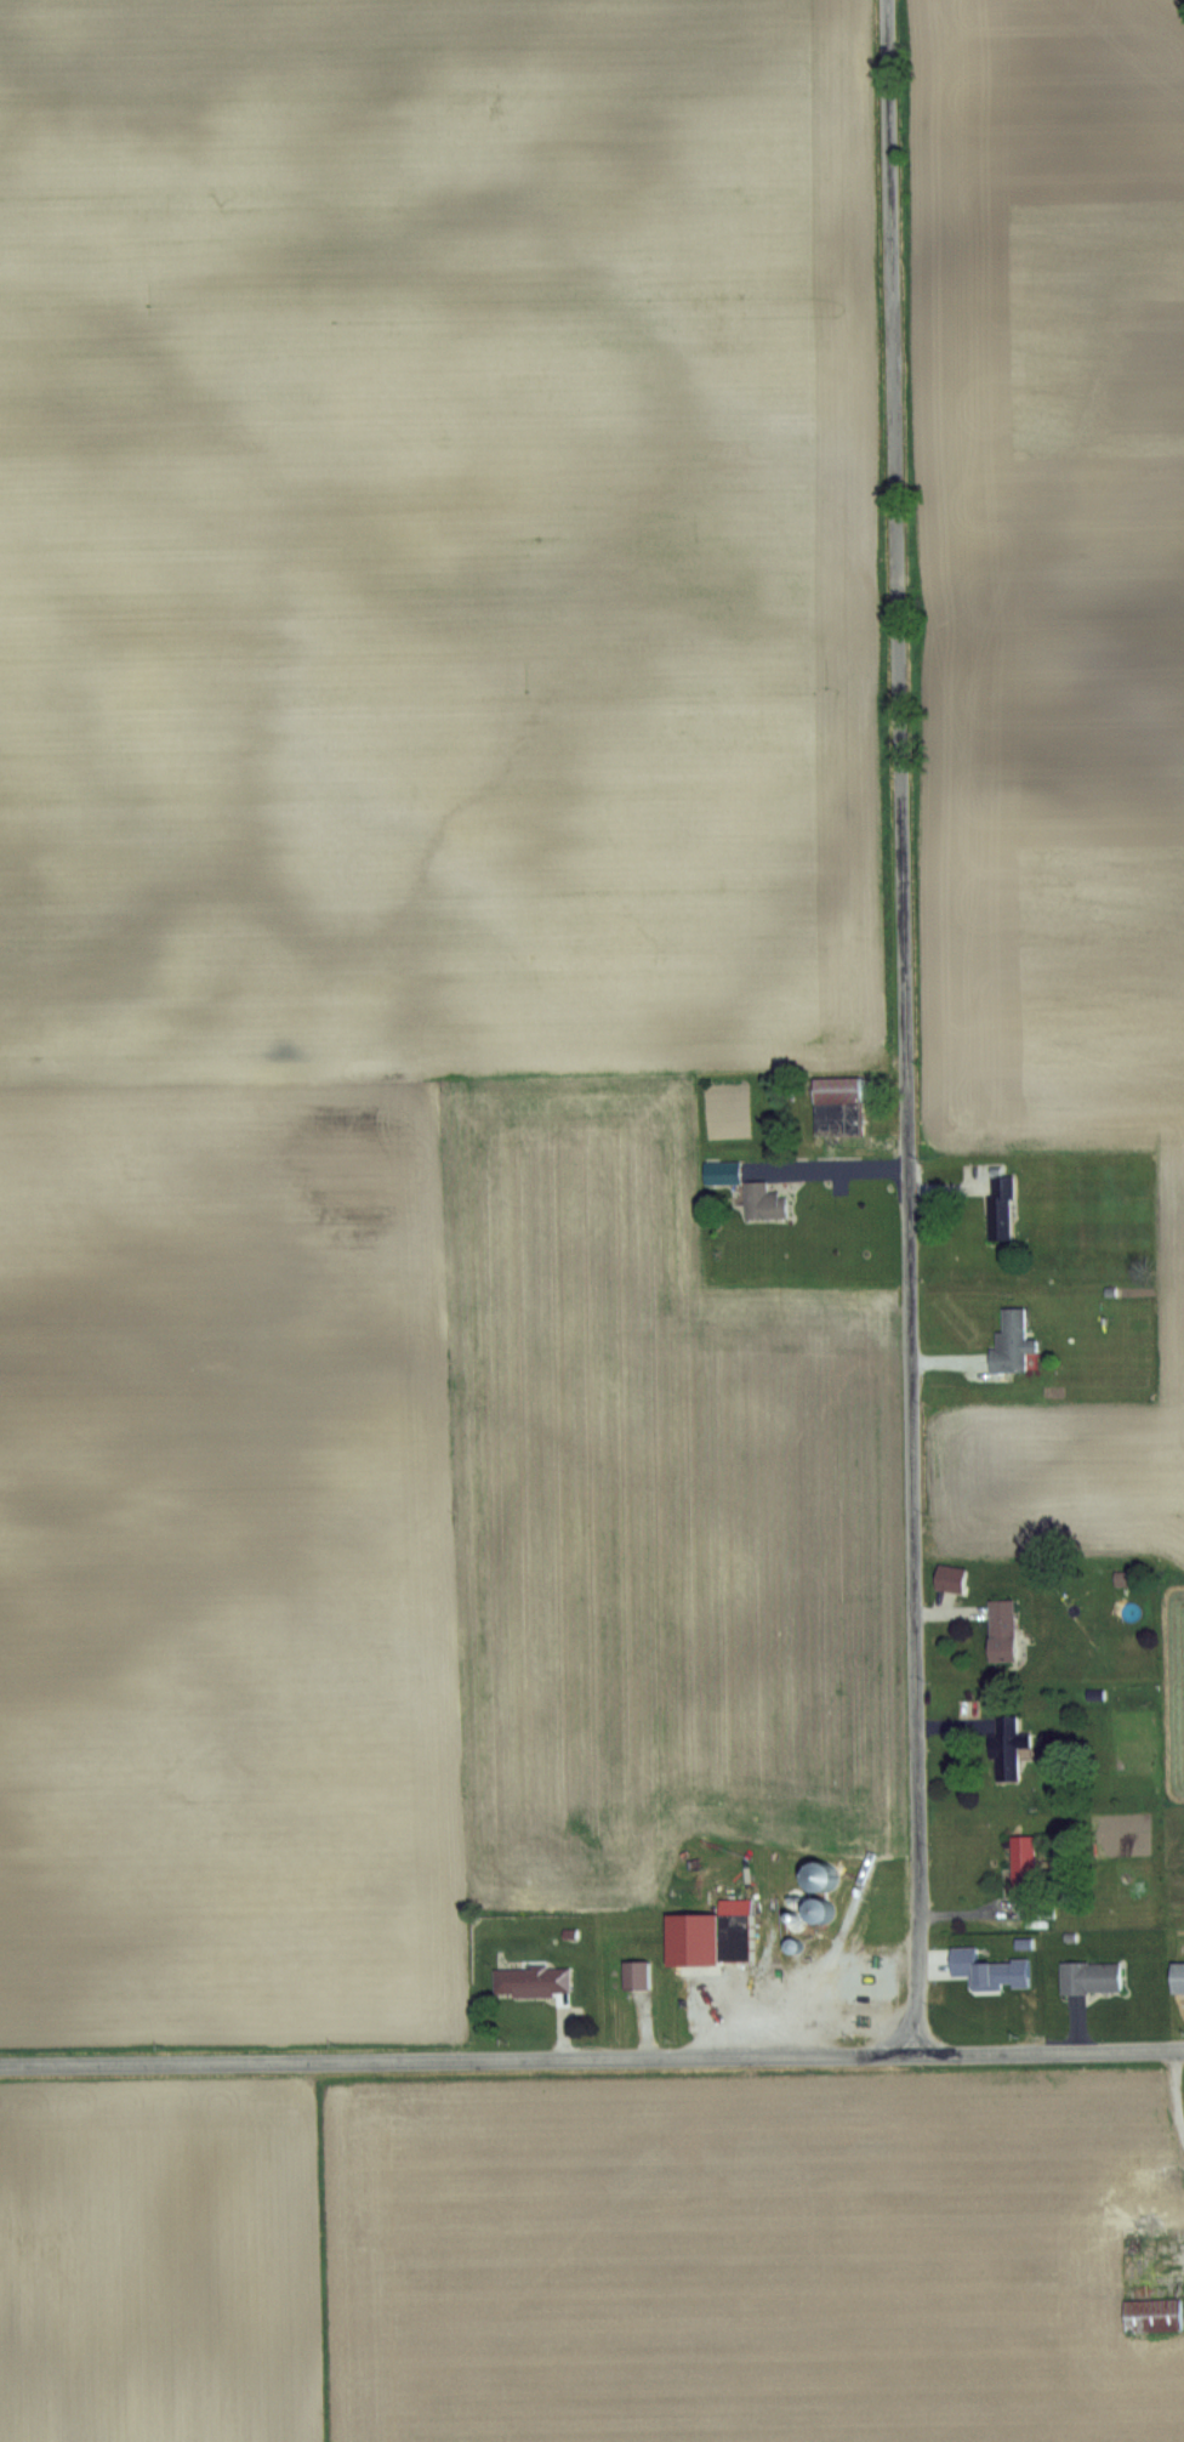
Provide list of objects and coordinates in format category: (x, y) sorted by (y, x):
road: (906, 1027)
building: (837, 1106)
building: (727, 1171)
building: (762, 1200)
building: (1000, 1206)
building: (1011, 1341)
building: (1001, 1630)
building: (1007, 1749)
building: (1023, 1862)
building: (733, 1929)
building: (998, 1972)
building: (634, 1975)
building: (865, 1976)
building: (1089, 1976)
building: (1177, 1976)
building: (531, 1978)
road: (592, 2060)
building: (1152, 2316)

